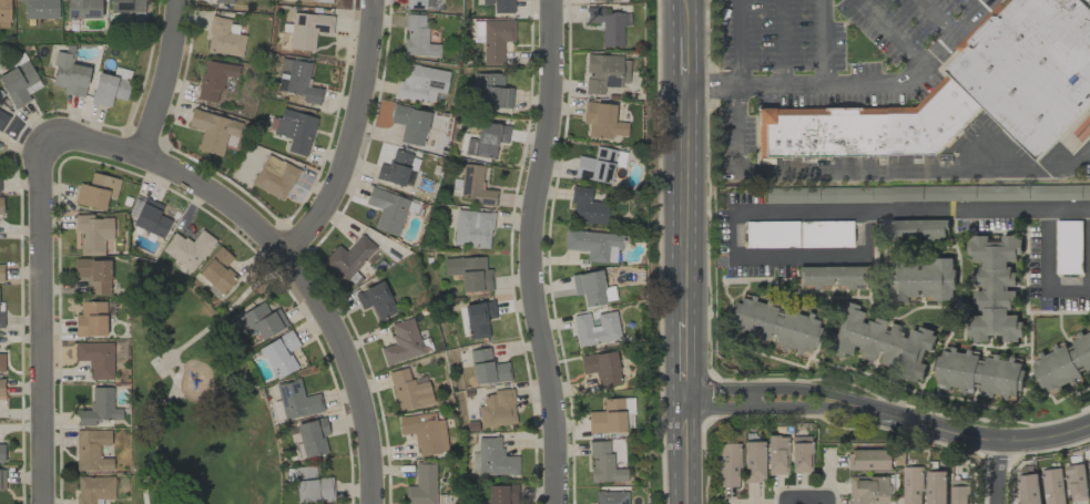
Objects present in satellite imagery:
building: (318, 0)
building: (602, 0)
building: (224, 1)
building: (415, 3)
building: (498, 4)
road: (980, 4)
building: (129, 8)
building: (39, 9)
building: (82, 9)
building: (3, 13)
road: (681, 19)
road: (935, 20)
building: (608, 24)
building: (307, 29)
road: (895, 33)
building: (417, 37)
building: (223, 38)
building: (492, 39)
road: (822, 42)
road: (738, 43)
road: (782, 43)
road: (682, 62)
building: (604, 72)
building: (68, 74)
road: (161, 79)
building: (213, 79)
building: (296, 80)
building: (19, 83)
building: (420, 83)
road: (856, 84)
building: (108, 89)
building: (491, 90)
building: (964, 95)
building: (2, 119)
building: (601, 121)
building: (409, 124)
building: (212, 130)
building: (293, 130)
road: (352, 135)
building: (486, 140)
building: (595, 166)
building: (398, 169)
road: (876, 171)
building: (274, 177)
building: (472, 185)
building: (95, 192)
building: (927, 194)
road: (684, 205)
building: (0, 206)
building: (585, 206)
building: (386, 209)
road: (910, 213)
building: (150, 218)
building: (471, 228)
building: (913, 230)
building: (92, 234)
building: (771, 234)
building: (825, 234)
building: (593, 244)
building: (187, 249)
road: (283, 251)
road: (528, 251)
road: (796, 251)
building: (348, 257)
building: (216, 270)
building: (1, 271)
building: (469, 272)
road: (1043, 274)
building: (93, 275)
building: (829, 276)
building: (920, 280)
building: (588, 287)
building: (994, 288)
building: (375, 300)
building: (0, 317)
building: (478, 318)
building: (90, 319)
building: (261, 320)
road: (40, 322)
building: (772, 326)
building: (595, 328)
building: (880, 341)
building: (401, 342)
building: (279, 354)
road: (685, 356)
building: (95, 358)
building: (1, 361)
building: (1063, 364)
building: (487, 368)
building: (601, 368)
building: (980, 373)
building: (1, 388)
road: (762, 390)
building: (407, 391)
park: (193, 395)
road: (748, 399)
building: (296, 400)
building: (98, 408)
road: (762, 408)
building: (496, 409)
building: (628, 412)
building: (607, 416)
building: (424, 432)
road: (961, 435)
building: (312, 436)
road: (687, 446)
building: (91, 450)
building: (1, 452)
building: (799, 453)
building: (775, 454)
building: (493, 457)
building: (867, 460)
building: (752, 461)
building: (602, 464)
building: (727, 464)
road: (1000, 474)
building: (1, 479)
building: (1077, 483)
building: (310, 485)
building: (421, 485)
building: (913, 485)
building: (1053, 486)
building: (937, 487)
building: (93, 488)
building: (867, 490)
building: (1030, 490)
building: (961, 492)
building: (501, 494)
building: (610, 497)
road: (804, 498)
road: (826, 501)
road: (783, 502)

